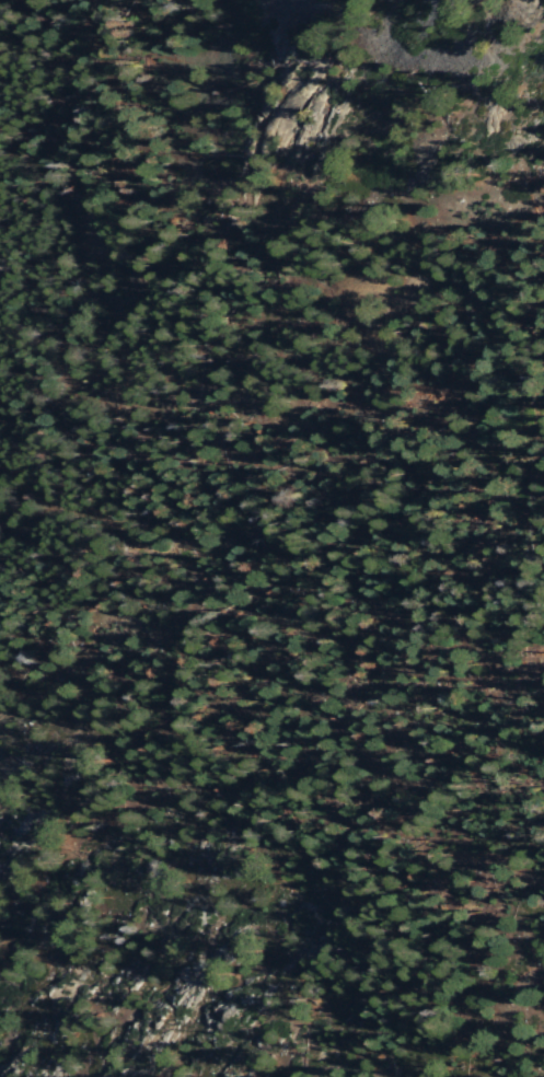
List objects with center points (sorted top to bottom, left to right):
road: (246, 205)
road: (16, 389)
road: (19, 413)
road: (297, 420)

